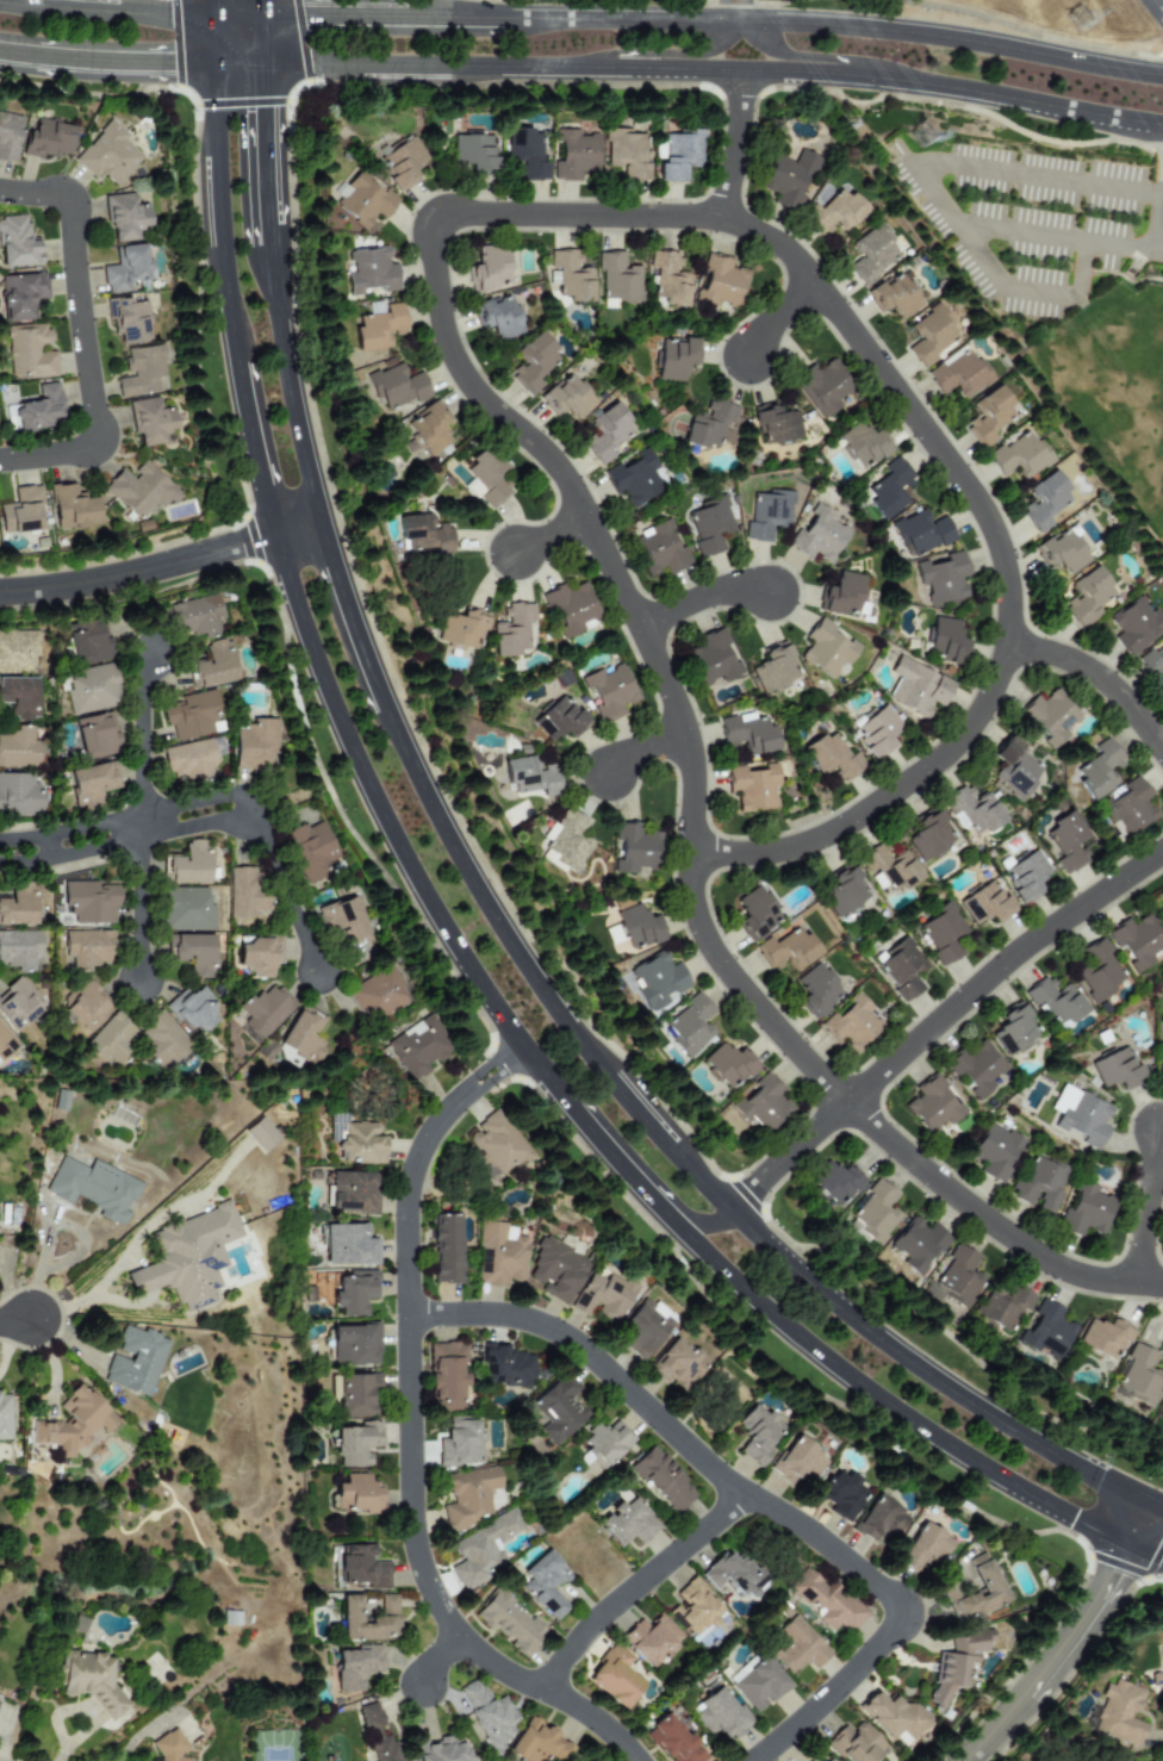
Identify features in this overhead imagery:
road: (1158, 6)
road: (213, 7)
road: (259, 7)
road: (462, 8)
road: (729, 11)
road: (739, 11)
road: (102, 12)
road: (232, 14)
traffic signals: (312, 14)
road: (334, 14)
road: (456, 17)
road: (620, 19)
park: (1053, 20)
power tower: (1082, 20)
road: (259, 37)
road: (213, 38)
road: (950, 38)
road: (658, 54)
road: (808, 56)
road: (106, 60)
road: (237, 61)
traffic signals: (163, 63)
road: (413, 66)
road: (654, 68)
road: (953, 88)
traffic signals: (262, 117)
building: (8, 136)
power tower: (923, 136)
building: (48, 138)
road: (262, 143)
road: (736, 144)
building: (472, 153)
building: (524, 154)
building: (626, 154)
building: (677, 154)
building: (107, 155)
building: (573, 155)
building: (400, 163)
road: (920, 179)
building: (788, 180)
building: (363, 201)
road: (218, 213)
building: (834, 213)
building: (124, 217)
road: (267, 236)
road: (1162, 238)
building: (17, 243)
road: (268, 247)
building: (870, 253)
building: (125, 268)
building: (489, 268)
building: (369, 272)
building: (568, 275)
building: (617, 280)
building: (667, 280)
building: (719, 282)
road: (1024, 291)
building: (20, 294)
building: (893, 295)
road: (784, 316)
building: (497, 317)
building: (126, 321)
building: (378, 328)
building: (931, 336)
road: (81, 337)
building: (27, 351)
building: (674, 359)
building: (531, 363)
road: (456, 367)
building: (142, 372)
building: (958, 374)
road: (288, 385)
building: (394, 387)
building: (822, 387)
building: (565, 398)
building: (39, 410)
building: (988, 416)
building: (149, 421)
building: (775, 424)
building: (709, 425)
building: (427, 428)
building: (604, 433)
building: (864, 444)
road: (253, 449)
building: (1019, 456)
building: (485, 478)
building: (634, 479)
building: (469, 489)
building: (889, 489)
building: (139, 490)
building: (1045, 502)
building: (71, 508)
building: (21, 511)
building: (766, 515)
building: (707, 525)
road: (297, 527)
building: (421, 534)
building: (920, 534)
road: (548, 536)
building: (816, 536)
building: (657, 549)
building: (1061, 553)
road: (139, 572)
building: (941, 577)
building: (842, 595)
building: (1088, 597)
road: (699, 598)
building: (570, 609)
building: (198, 616)
road: (348, 616)
building: (1136, 626)
building: (459, 629)
building: (509, 630)
building: (946, 641)
building: (87, 642)
building: (826, 649)
building: (18, 651)
building: (710, 659)
building: (1152, 661)
building: (212, 665)
building: (772, 668)
road: (1102, 682)
building: (916, 687)
building: (89, 689)
building: (608, 692)
building: (19, 697)
building: (192, 715)
building: (1050, 717)
building: (559, 721)
building: (877, 732)
building: (747, 734)
building: (95, 735)
road: (141, 745)
building: (256, 745)
building: (20, 747)
road: (652, 751)
building: (832, 758)
building: (188, 761)
building: (1013, 769)
building: (1099, 770)
building: (529, 776)
road: (336, 777)
building: (91, 784)
building: (752, 788)
building: (19, 795)
road: (281, 804)
building: (1127, 809)
building: (972, 810)
road: (131, 814)
road: (193, 825)
road: (391, 833)
building: (929, 836)
building: (565, 842)
building: (1066, 842)
building: (634, 850)
building: (312, 851)
road: (69, 853)
building: (187, 864)
building: (890, 867)
building: (1026, 876)
building: (1161, 891)
road: (284, 892)
building: (845, 892)
building: (245, 895)
building: (89, 901)
building: (18, 904)
building: (985, 904)
building: (187, 909)
road: (137, 910)
building: (755, 914)
building: (343, 921)
building: (638, 927)
building: (943, 933)
building: (1137, 941)
building: (87, 947)
building: (20, 950)
building: (786, 951)
building: (192, 953)
building: (259, 954)
building: (901, 969)
building: (1097, 971)
building: (657, 981)
building: (816, 990)
building: (378, 994)
building: (1055, 1001)
building: (18, 1003)
building: (85, 1006)
building: (192, 1009)
building: (262, 1013)
road: (937, 1021)
building: (853, 1025)
building: (689, 1026)
building: (1014, 1031)
building: (301, 1035)
building: (110, 1040)
building: (162, 1040)
building: (6, 1041)
building: (416, 1047)
building: (728, 1064)
building: (975, 1068)
building: (1161, 1069)
building: (1115, 1070)
building: (58, 1100)
building: (763, 1104)
building: (933, 1104)
building: (1080, 1116)
road: (876, 1130)
building: (260, 1134)
building: (361, 1144)
building: (496, 1146)
road: (605, 1150)
building: (995, 1152)
road: (694, 1177)
building: (835, 1183)
building: (1039, 1184)
building: (92, 1187)
building: (350, 1193)
road: (1146, 1207)
building: (1084, 1211)
building: (873, 1214)
road: (689, 1215)
building: (918, 1244)
building: (348, 1245)
building: (444, 1249)
building: (499, 1253)
building: (558, 1268)
building: (958, 1277)
road: (137, 1278)
street lamp: (17, 1287)
building: (353, 1292)
building: (603, 1296)
road: (86, 1299)
road: (120, 1302)
building: (1002, 1308)
road: (14, 1320)
building: (647, 1328)
building: (1046, 1331)
building: (1105, 1338)
building: (354, 1345)
building: (132, 1361)
building: (677, 1364)
building: (504, 1365)
building: (1138, 1376)
building: (446, 1377)
building: (355, 1394)
road: (871, 1394)
building: (558, 1410)
building: (4, 1415)
building: (1161, 1417)
building: (70, 1423)
road: (408, 1433)
building: (758, 1435)
building: (460, 1443)
building: (605, 1443)
building: (356, 1444)
building: (798, 1463)
building: (663, 1479)
building: (357, 1494)
building: (841, 1494)
building: (469, 1496)
road: (750, 1496)
road: (1157, 1505)
traffic signals: (1072, 1519)
building: (881, 1520)
building: (627, 1522)
road: (1140, 1524)
building: (923, 1549)
building: (483, 1550)
road: (1145, 1552)
building: (362, 1568)
traffic signals: (1115, 1573)
building: (732, 1574)
building: (546, 1583)
road: (635, 1586)
building: (989, 1587)
building: (827, 1601)
building: (694, 1608)
building: (368, 1620)
building: (510, 1623)
road: (1083, 1624)
building: (651, 1639)
building: (798, 1647)
road: (436, 1657)
building: (958, 1662)
building: (355, 1667)
building: (1157, 1674)
building: (614, 1678)
building: (92, 1681)
building: (758, 1682)
building: (1118, 1713)
building: (487, 1715)
building: (721, 1716)
building: (894, 1717)
road: (995, 1728)
building: (377, 1731)
building: (672, 1741)
building: (534, 1743)
building: (856, 1743)
building: (167, 1749)
building: (440, 1750)
building: (829, 1760)

